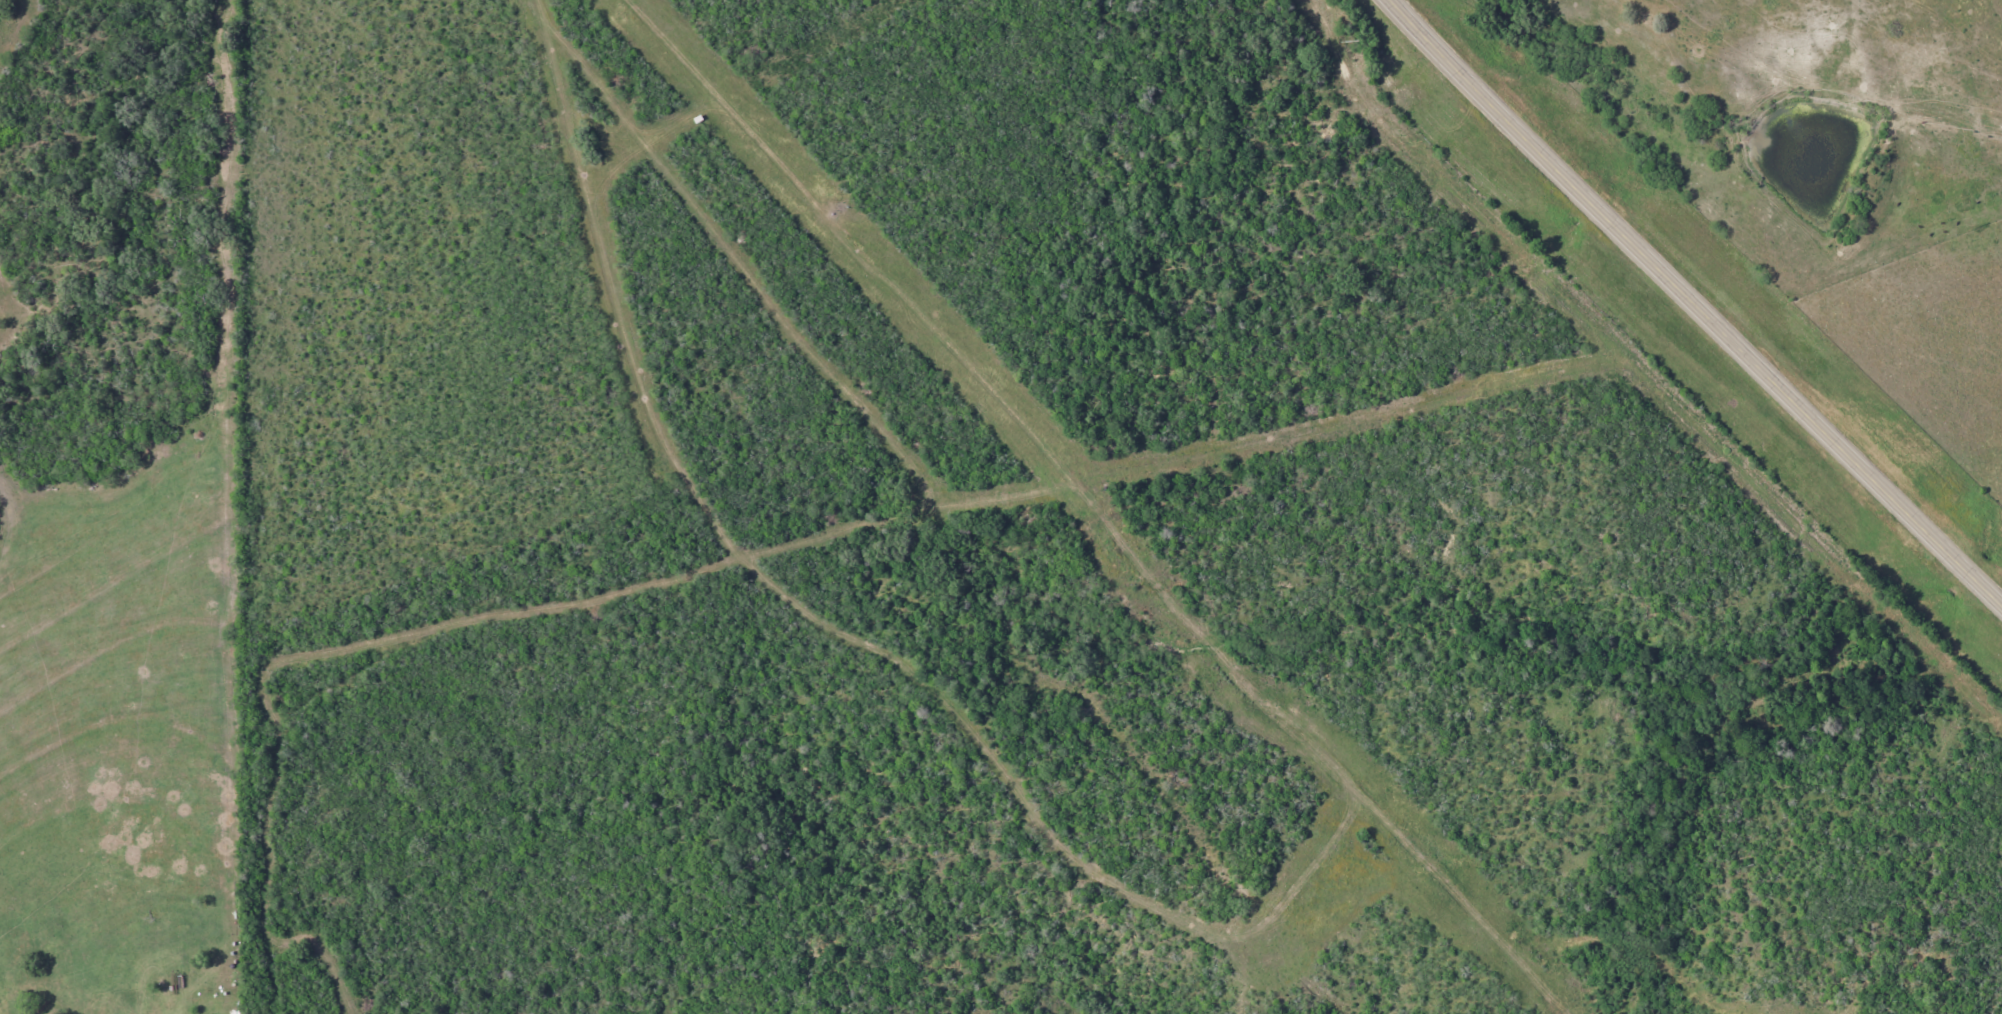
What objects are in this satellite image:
road: (1675, 198)
road: (1694, 303)

